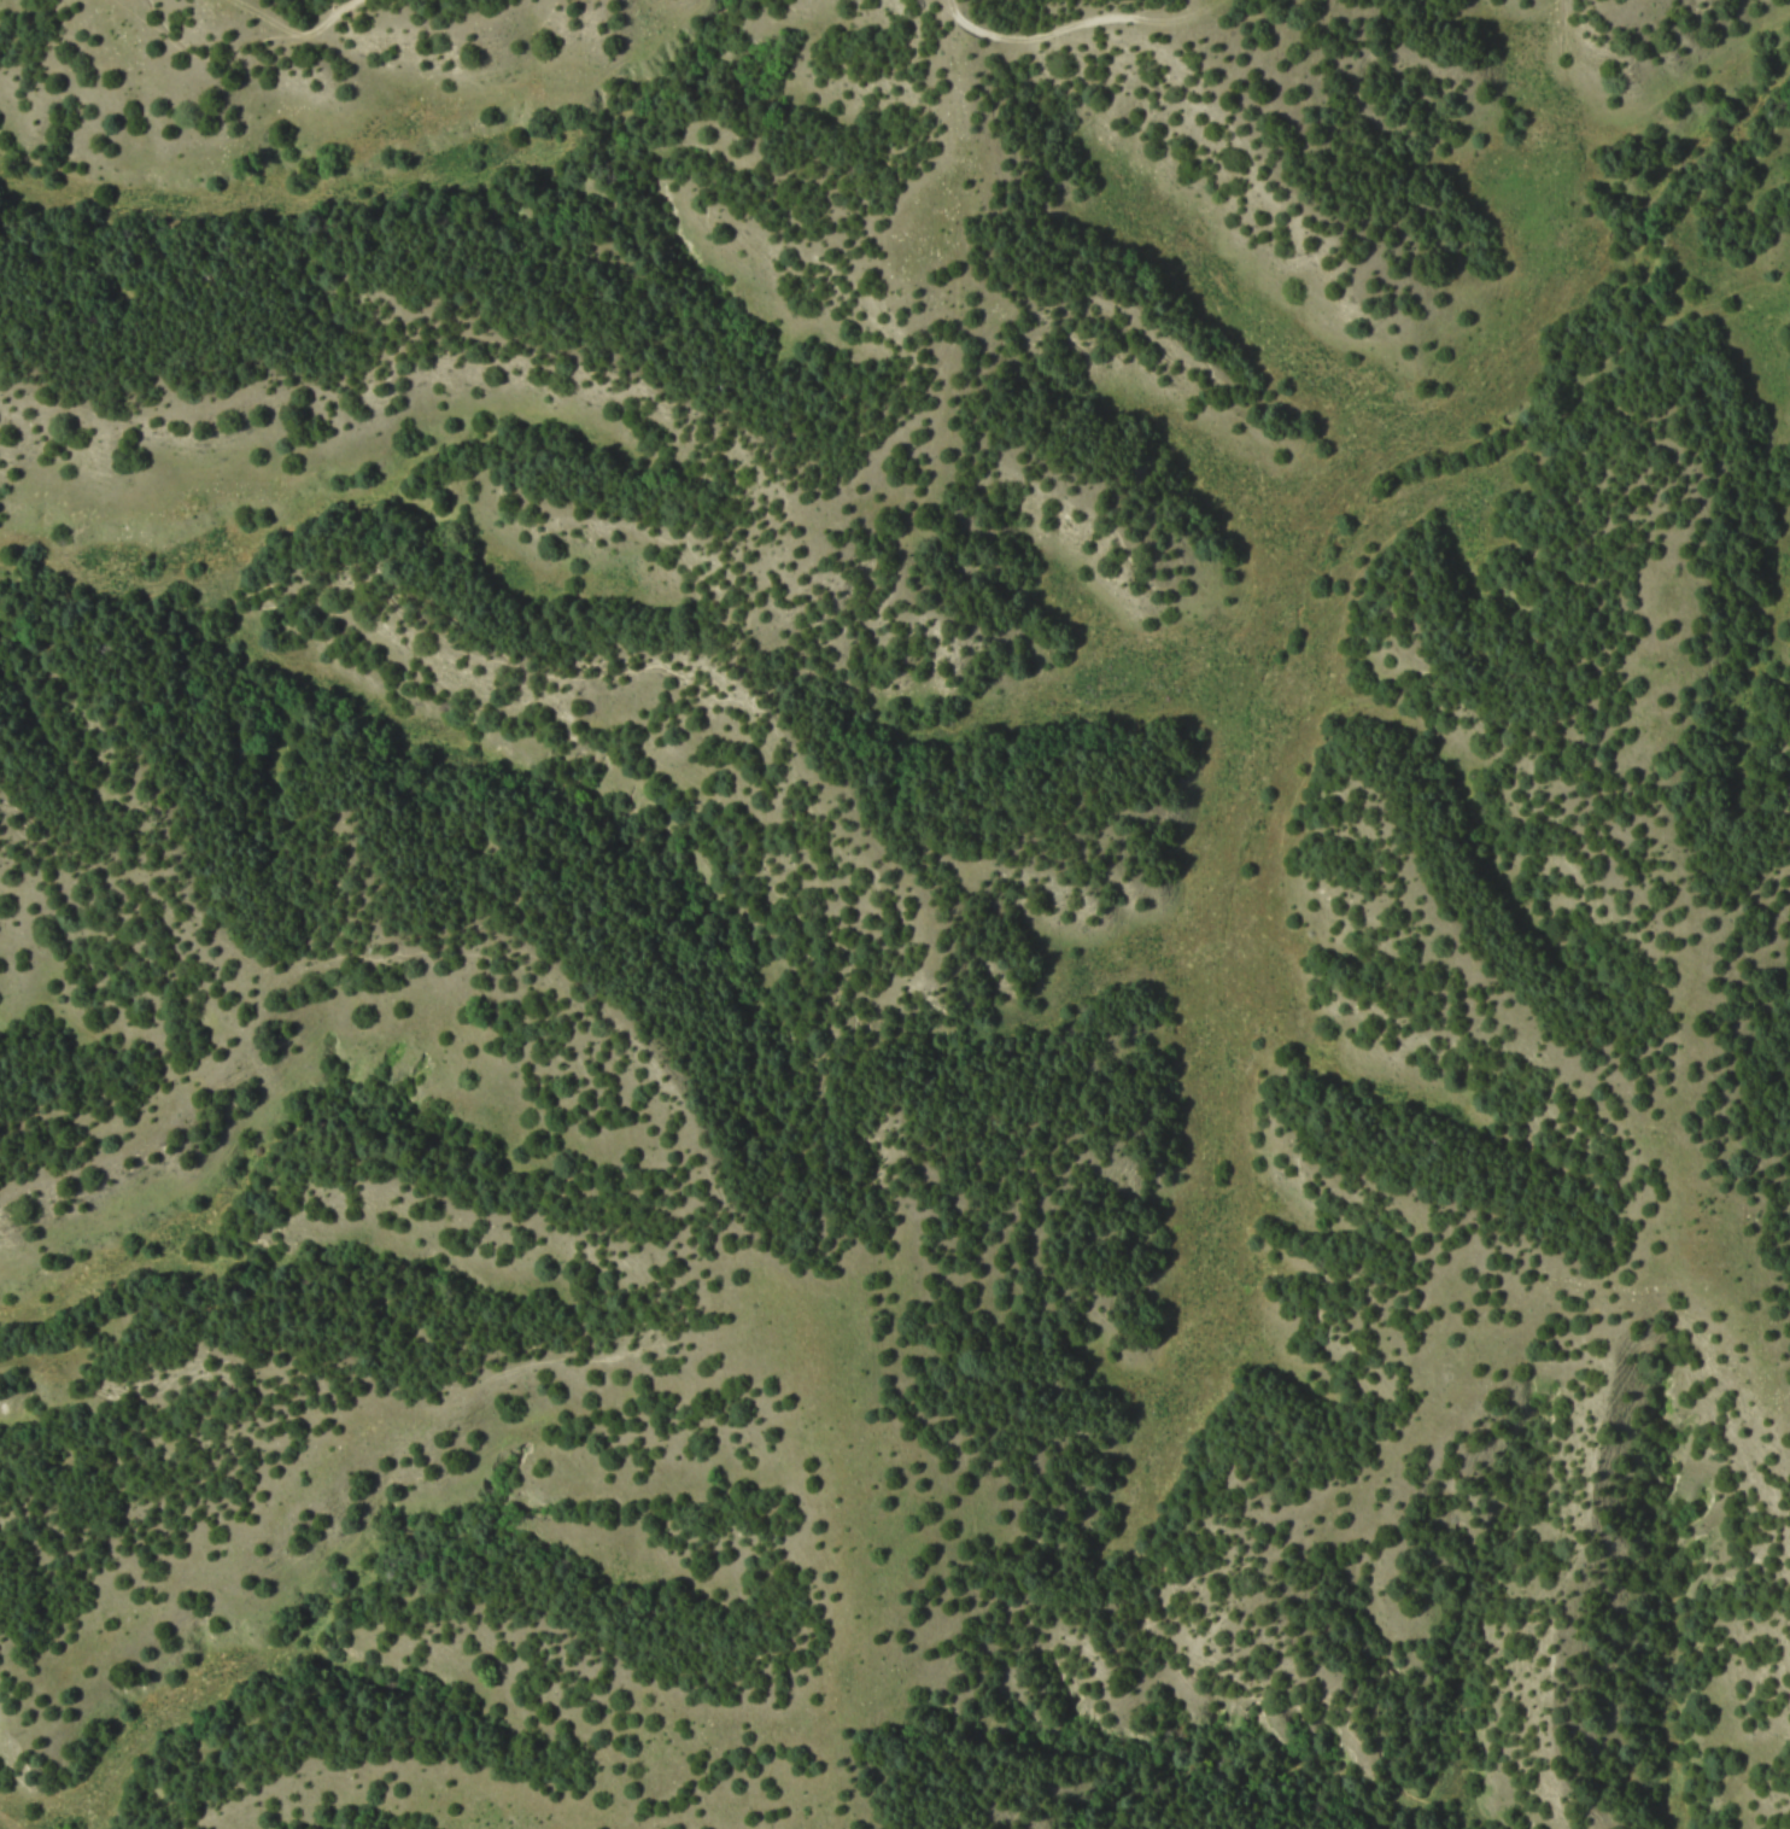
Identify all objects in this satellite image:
road: (10, 1819)

